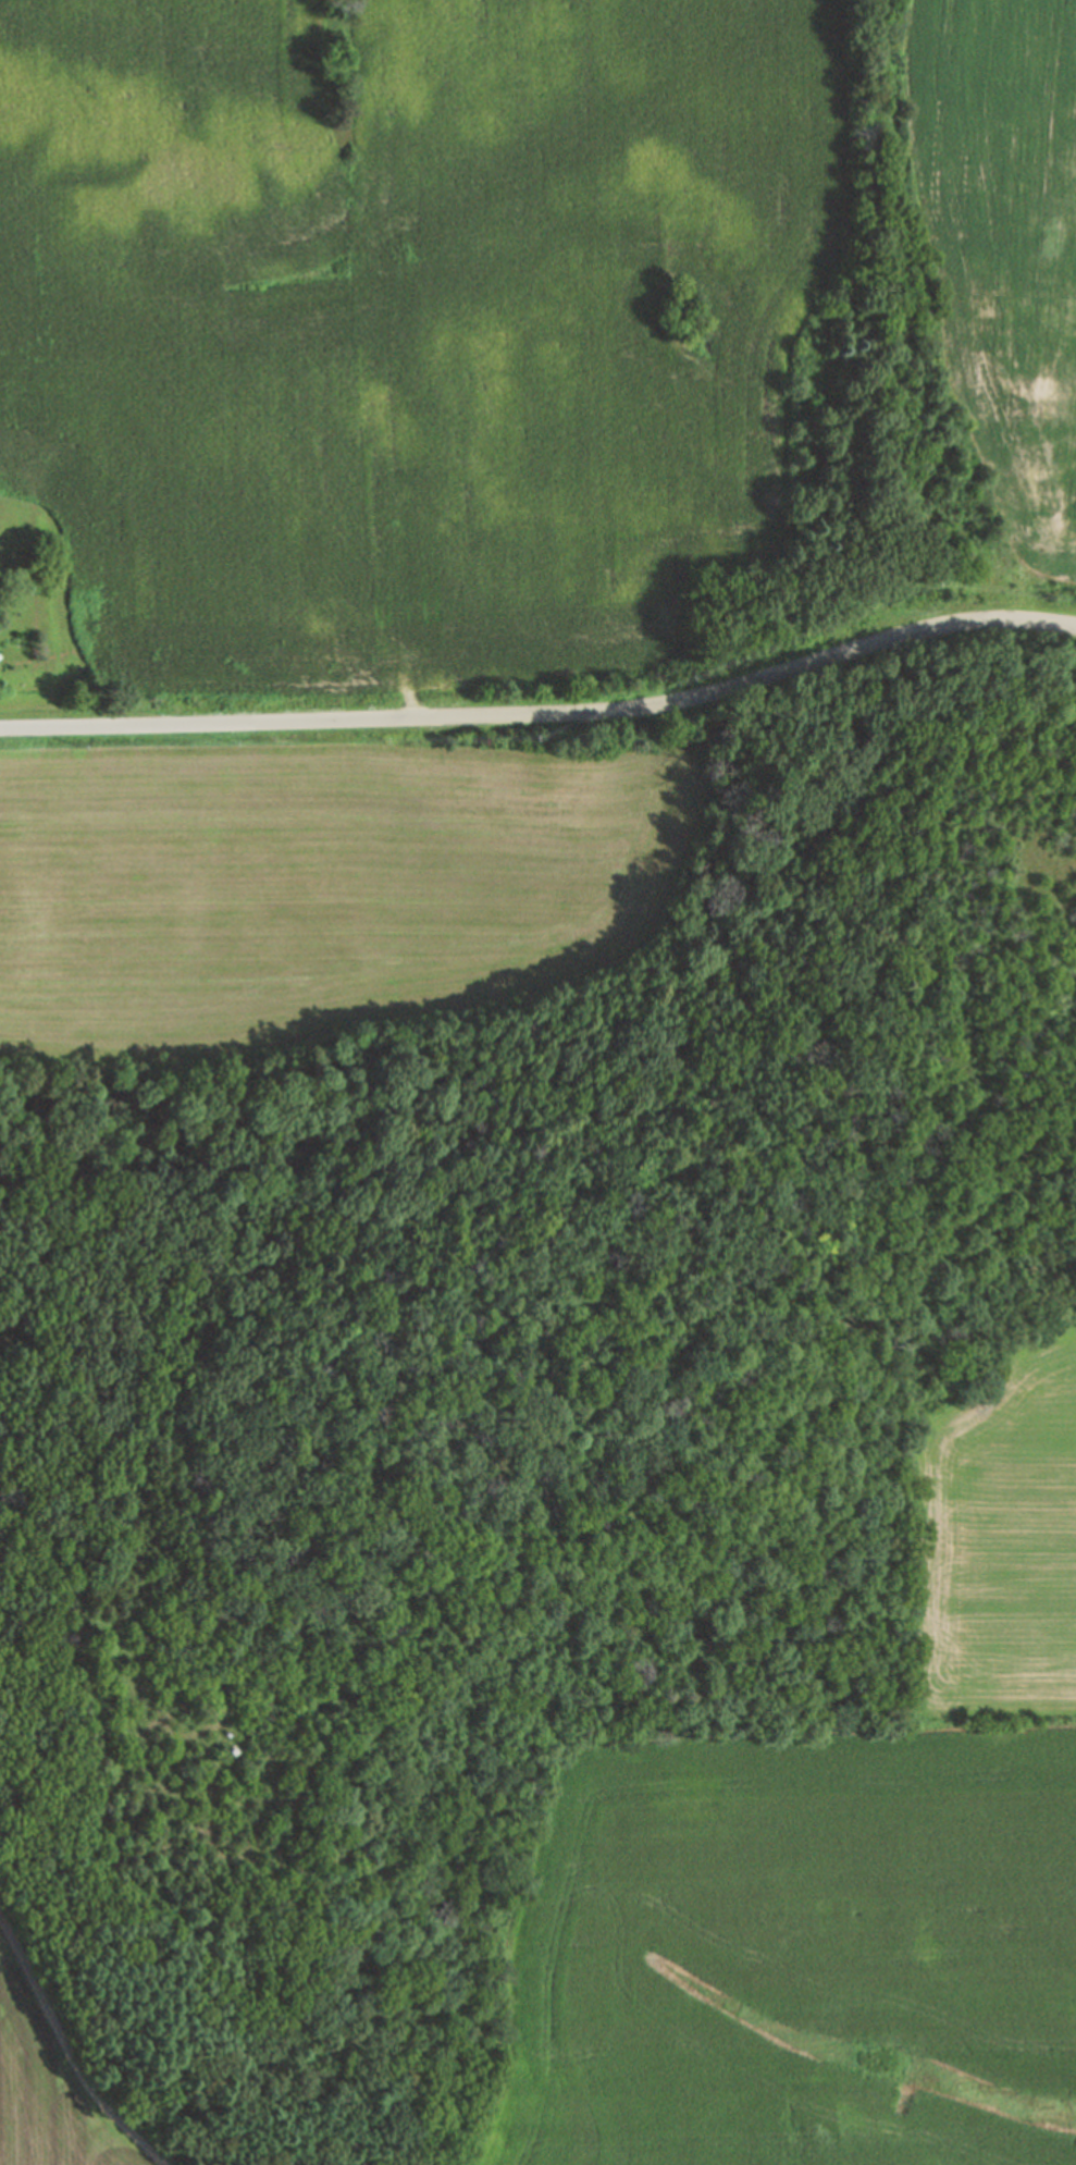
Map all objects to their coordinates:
road: (543, 714)
road: (72, 2029)

